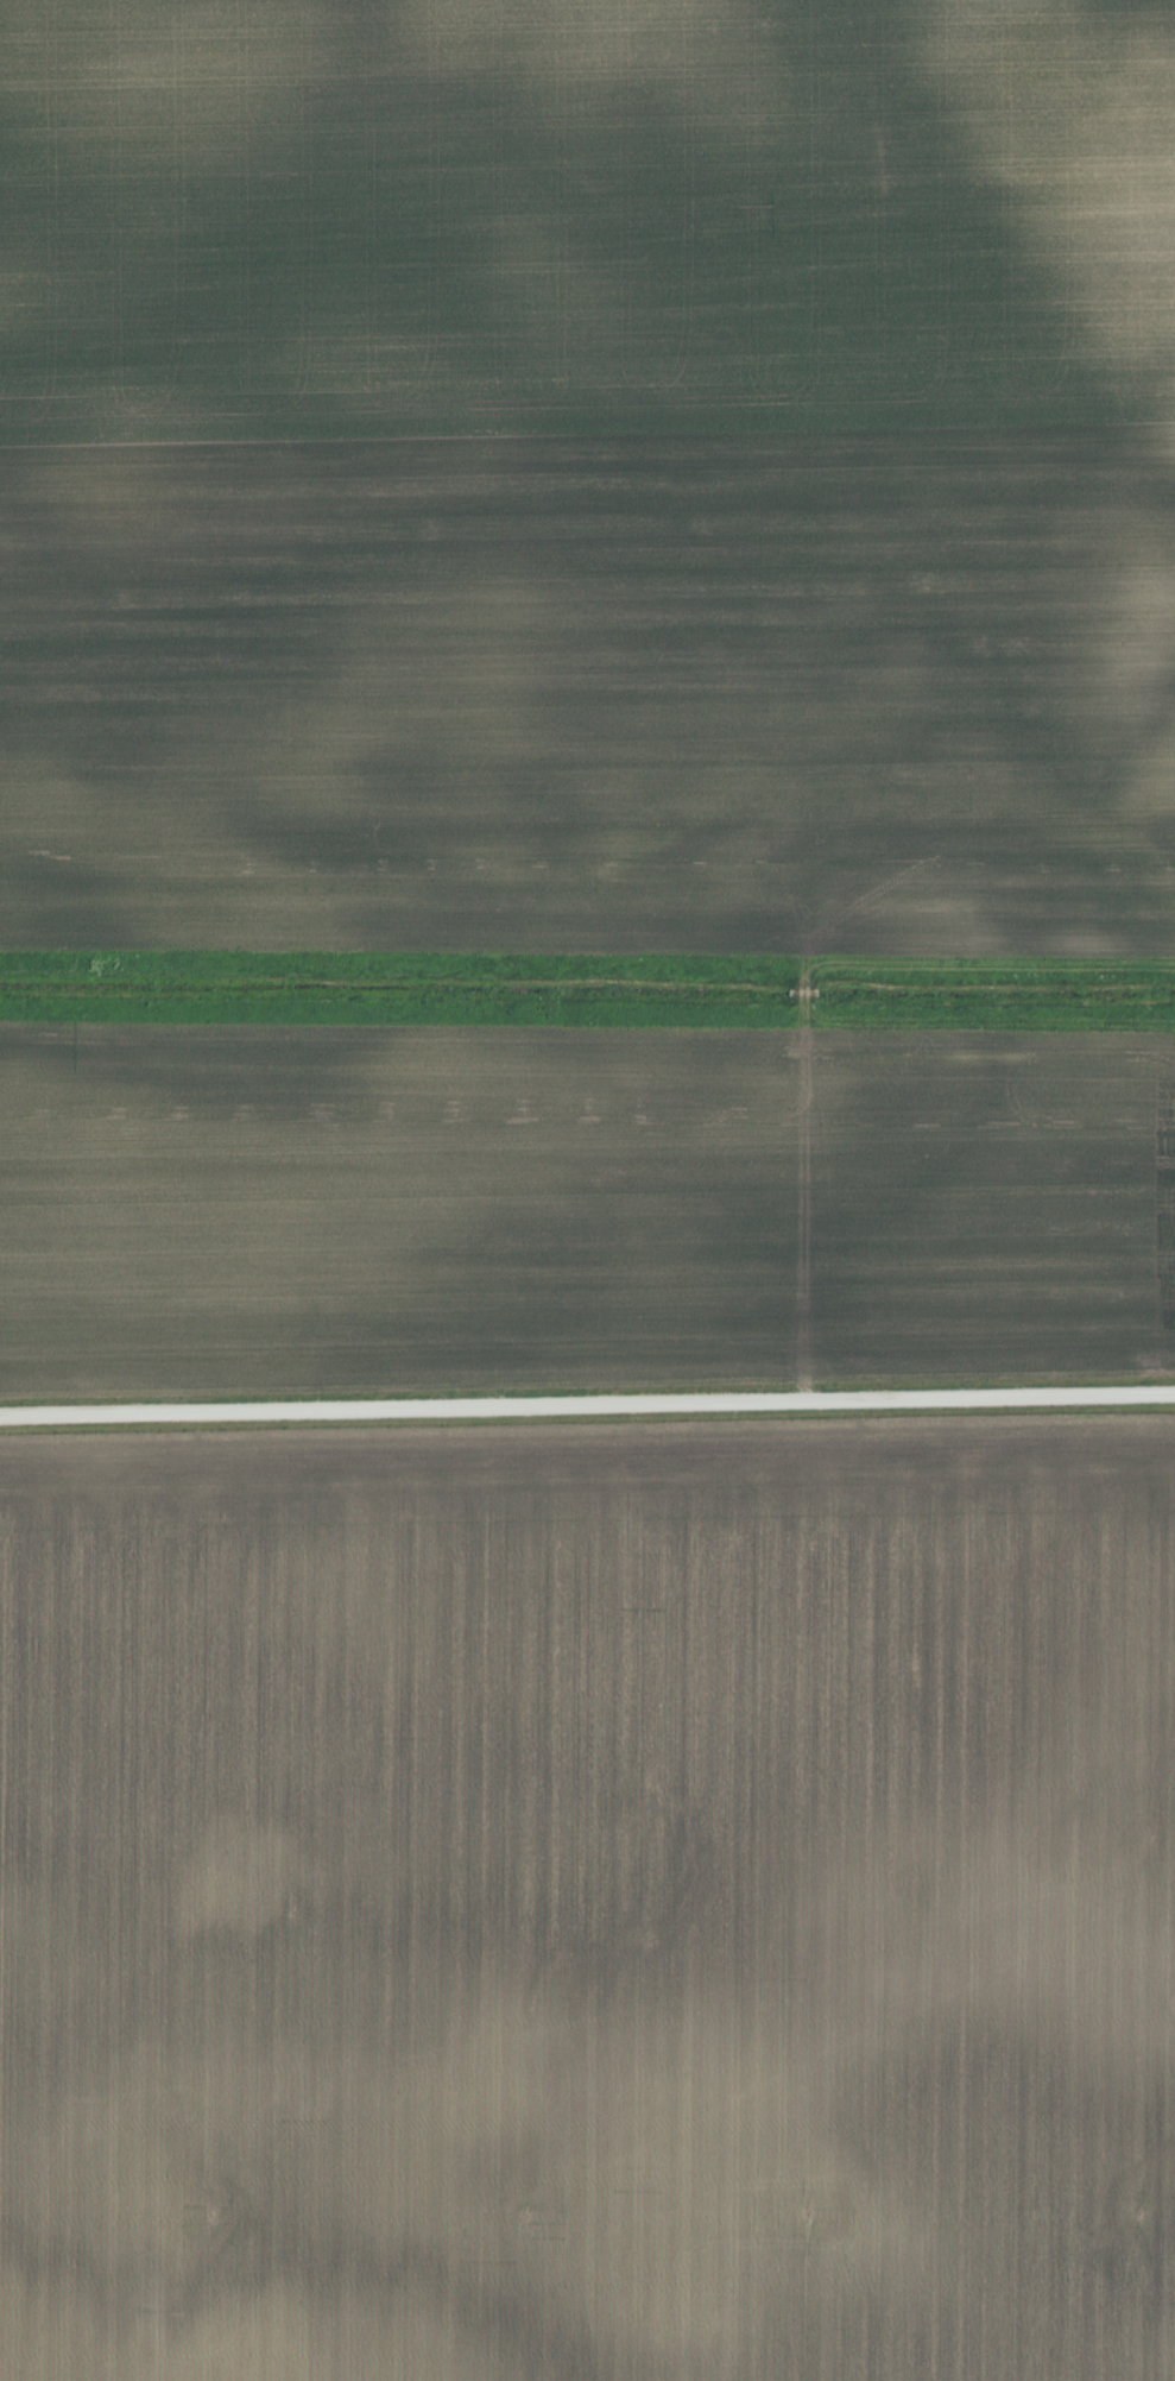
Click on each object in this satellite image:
road: (587, 1403)

